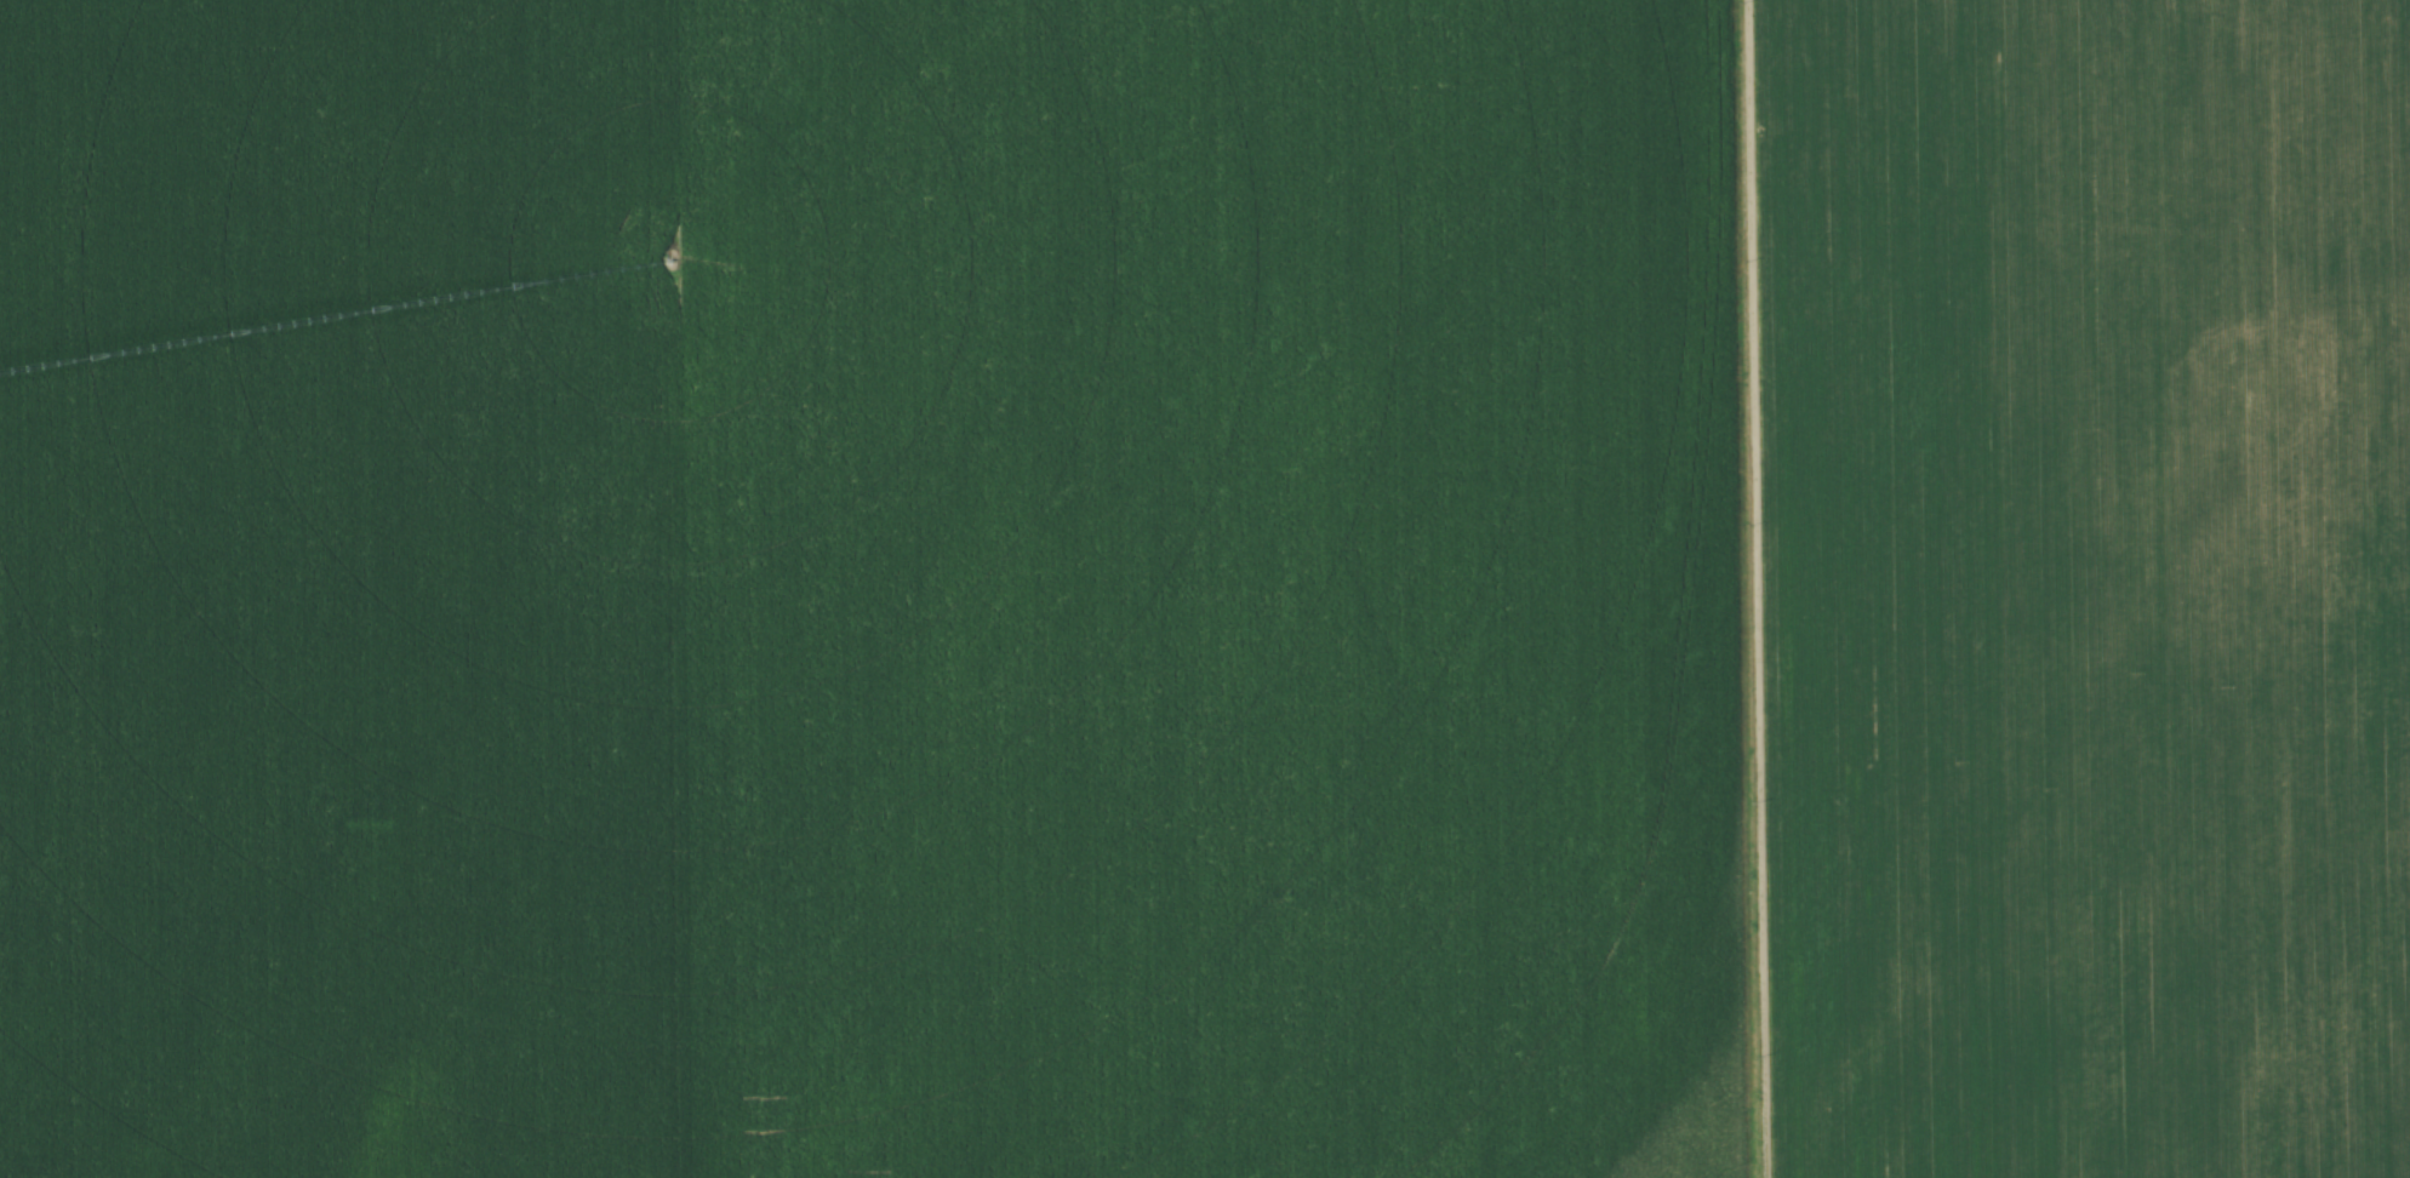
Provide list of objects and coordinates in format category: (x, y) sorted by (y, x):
crop: (1205, 589)

